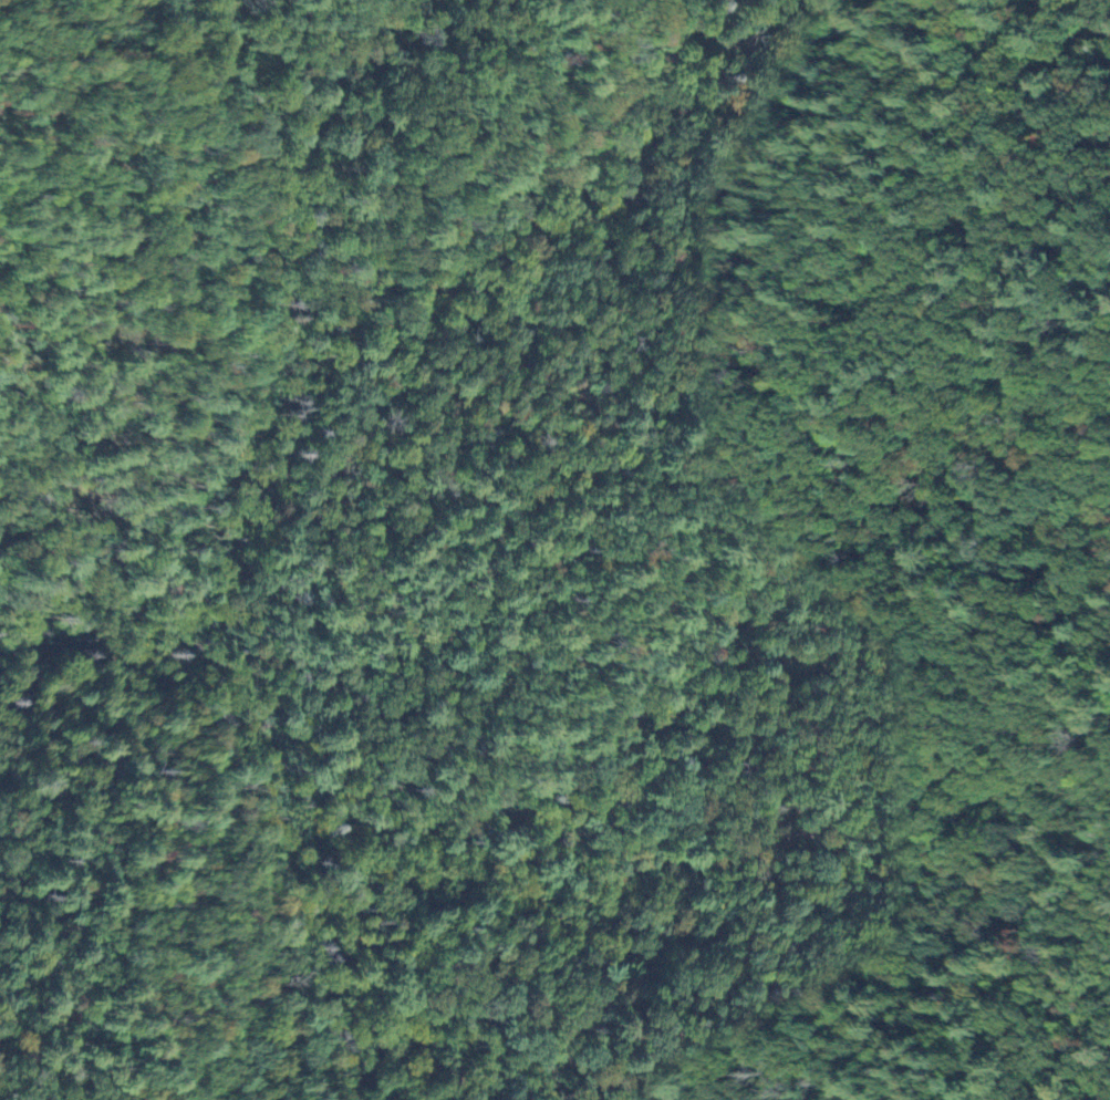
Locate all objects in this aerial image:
road: (551, 35)
road: (110, 190)
road: (974, 204)

